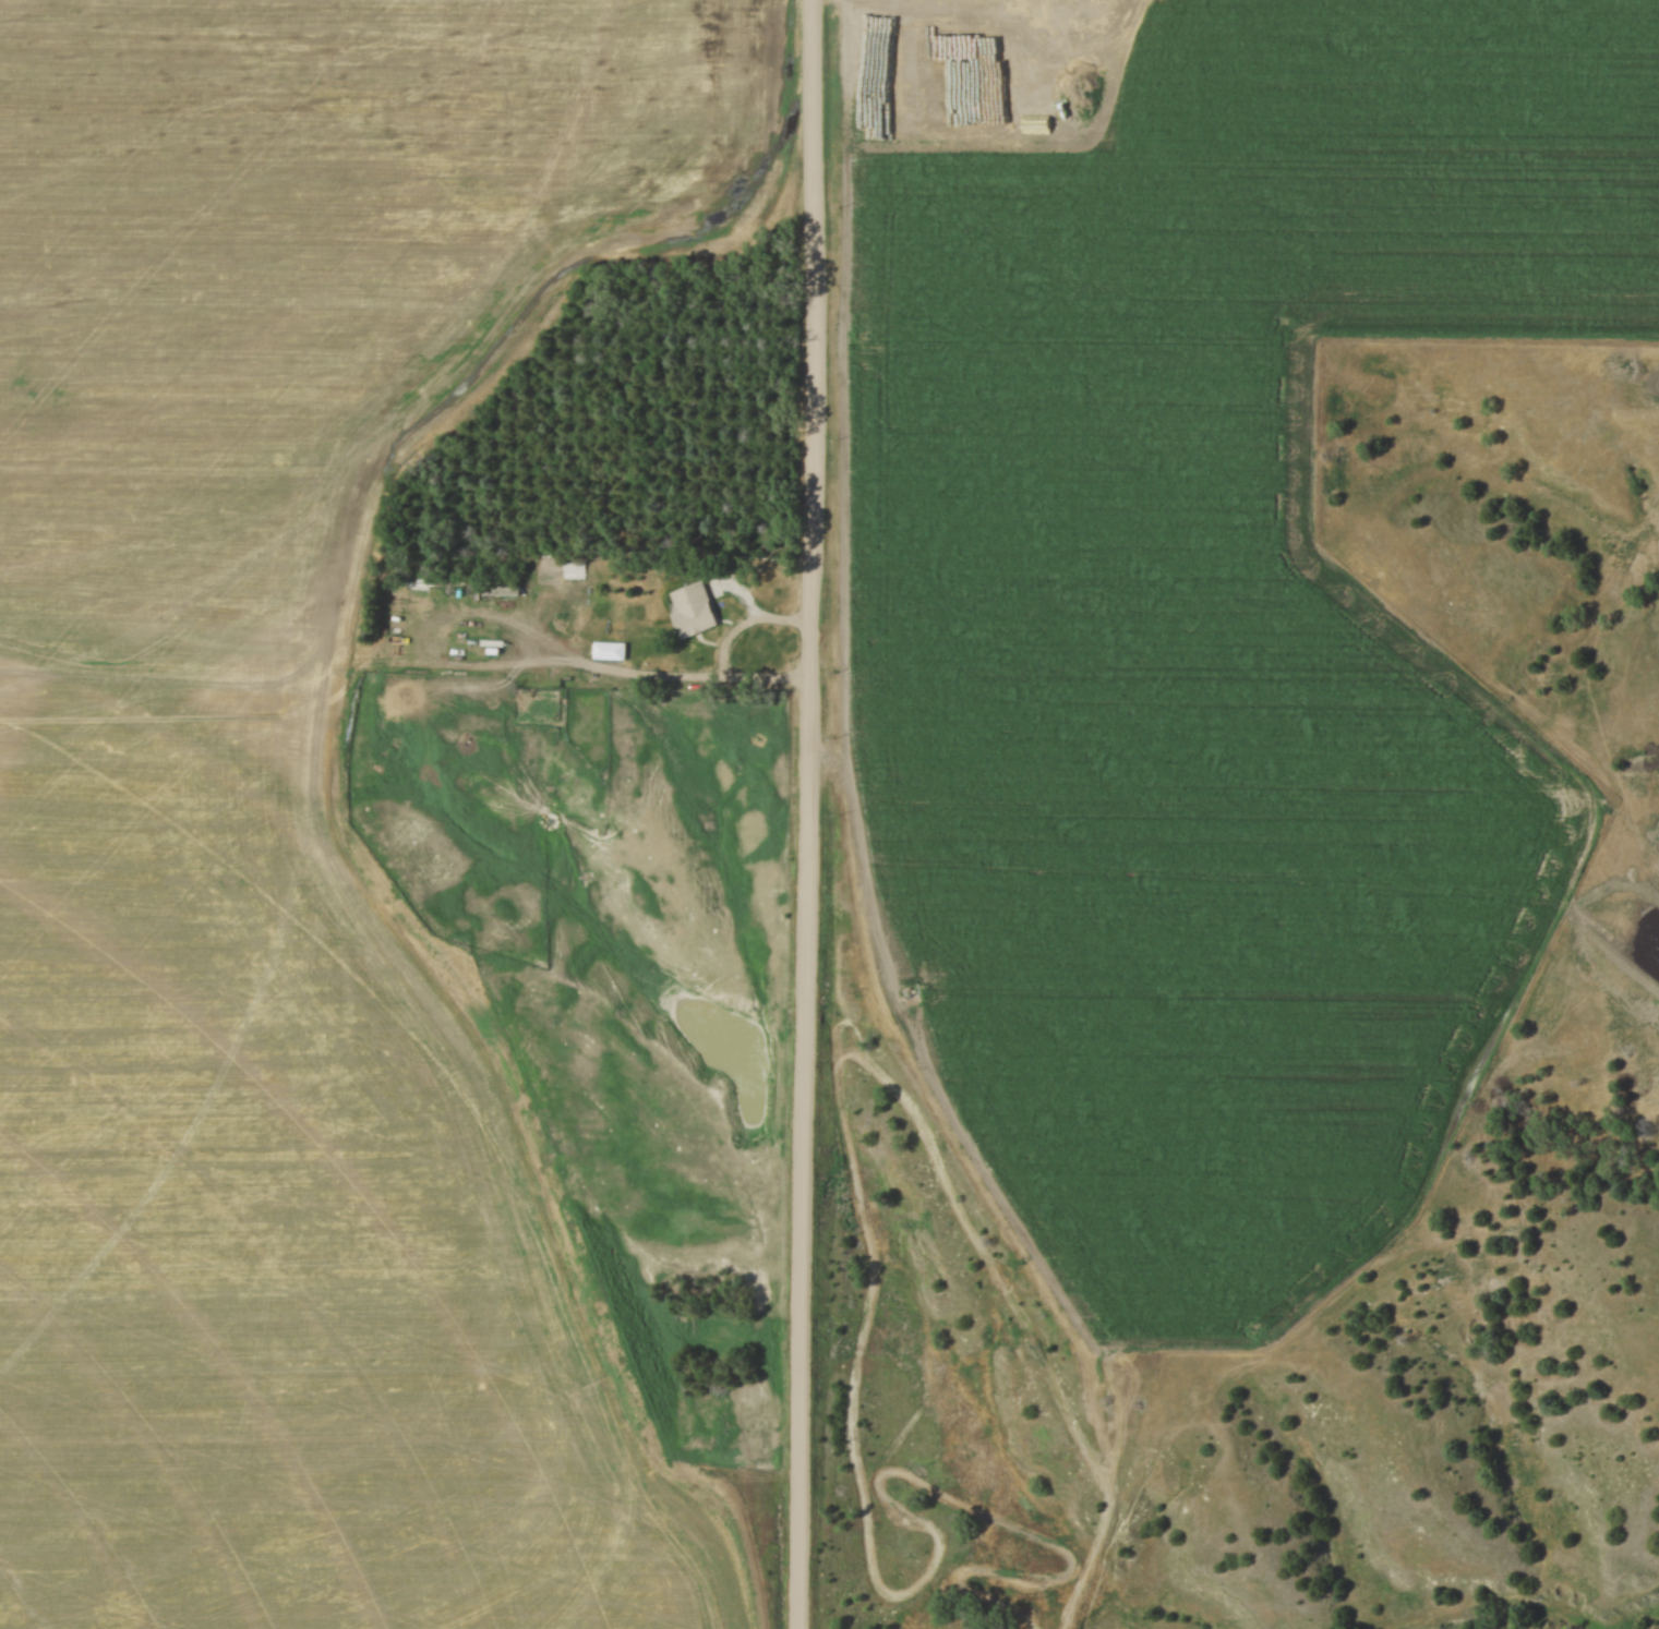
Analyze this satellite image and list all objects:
building: (557, 565)
building: (500, 590)
building: (687, 610)
road: (725, 650)
building: (604, 651)
road: (808, 814)

